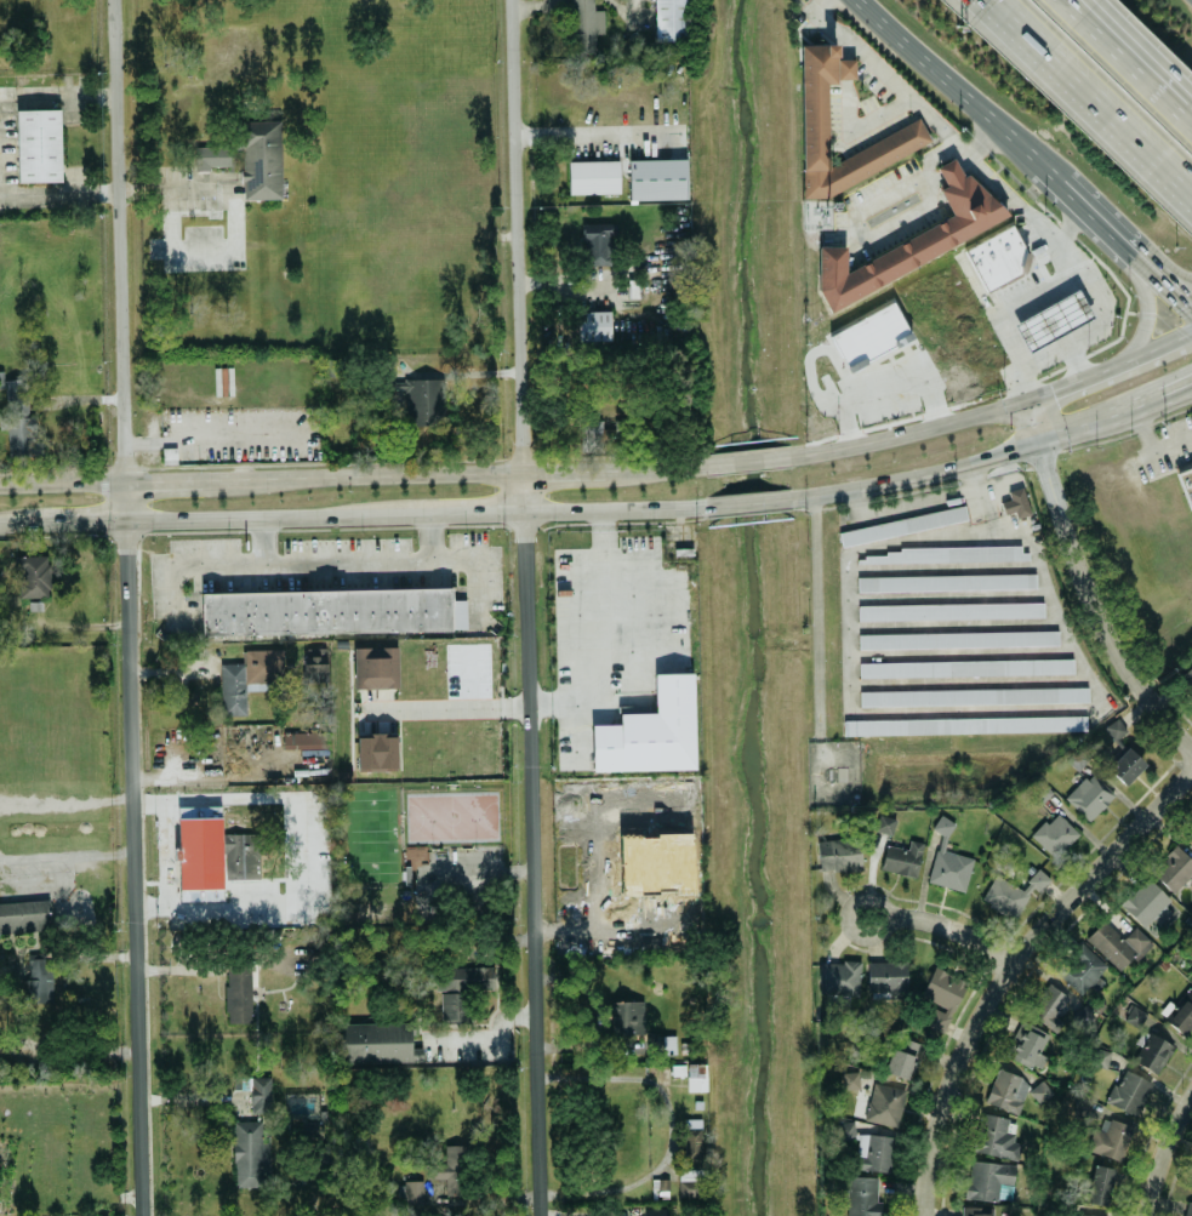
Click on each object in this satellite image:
road: (989, 4)
road: (989, 4)
building: (667, 19)
building: (584, 24)
road: (1147, 44)
road: (907, 45)
road: (1134, 55)
road: (901, 89)
road: (70, 91)
road: (1093, 101)
road: (593, 130)
building: (909, 131)
building: (38, 144)
building: (211, 156)
building: (259, 158)
building: (593, 175)
building: (656, 177)
road: (59, 188)
road: (1016, 195)
road: (1074, 200)
road: (169, 223)
building: (912, 236)
building: (599, 241)
building: (997, 257)
road: (1165, 269)
building: (429, 270)
road: (566, 279)
building: (632, 286)
road: (1034, 291)
road: (1103, 309)
building: (1051, 319)
building: (593, 324)
road: (1142, 324)
building: (869, 335)
road: (1060, 346)
building: (428, 359)
road: (467, 370)
building: (223, 378)
building: (15, 393)
road: (1177, 394)
traffic signals: (1027, 396)
road: (1177, 398)
building: (424, 400)
road: (997, 405)
road: (1112, 423)
building: (22, 434)
building: (597, 434)
road: (221, 438)
traffic signals: (1039, 441)
road: (1154, 449)
building: (169, 453)
road: (746, 457)
road: (654, 464)
road: (568, 469)
road: (925, 472)
road: (364, 474)
road: (975, 474)
road: (166, 478)
building: (1185, 478)
road: (64, 480)
road: (746, 499)
building: (1014, 502)
road: (905, 506)
road: (612, 509)
road: (486, 512)
road: (289, 514)
road: (89, 518)
road: (23, 520)
building: (901, 523)
road: (430, 536)
road: (262, 538)
building: (946, 552)
road: (332, 560)
building: (32, 573)
building: (945, 580)
road: (1083, 584)
road: (133, 607)
road: (527, 607)
building: (329, 609)
building: (951, 609)
road: (816, 610)
road: (598, 636)
building: (958, 636)
building: (313, 666)
building: (373, 666)
building: (963, 666)
building: (249, 675)
building: (1187, 675)
building: (973, 695)
road: (451, 708)
road: (949, 709)
building: (964, 724)
building: (1116, 727)
building: (649, 730)
building: (308, 741)
building: (376, 750)
building: (1076, 758)
building: (1125, 764)
building: (1088, 794)
building: (884, 821)
building: (942, 823)
building: (1054, 832)
building: (1190, 834)
building: (232, 846)
building: (199, 851)
building: (416, 851)
building: (838, 852)
building: (901, 856)
building: (1173, 866)
building: (949, 867)
building: (1011, 891)
road: (863, 900)
building: (1145, 900)
road: (206, 901)
building: (24, 914)
road: (951, 930)
building: (1117, 942)
road: (1006, 965)
building: (1084, 969)
building: (463, 976)
building: (839, 976)
building: (886, 976)
building: (39, 977)
building: (238, 989)
building: (942, 994)
building: (1048, 1003)
building: (454, 1005)
building: (1182, 1012)
building: (627, 1014)
road: (490, 1034)
building: (376, 1040)
building: (662, 1043)
building: (1026, 1043)
building: (1152, 1050)
building: (900, 1061)
building: (691, 1073)
building: (850, 1078)
building: (1004, 1087)
building: (1040, 1090)
building: (1129, 1091)
building: (259, 1092)
building: (884, 1102)
road: (673, 1127)
building: (845, 1127)
building: (994, 1134)
building: (692, 1136)
building: (1110, 1138)
building: (876, 1151)
building: (249, 1152)
road: (1163, 1153)
building: (447, 1166)
building: (987, 1177)
building: (690, 1180)
building: (1100, 1183)
building: (660, 1186)
building: (411, 1189)
building: (1004, 1189)
building: (861, 1194)
building: (1187, 1209)
building: (655, 1210)
building: (975, 1211)
building: (1088, 1215)

